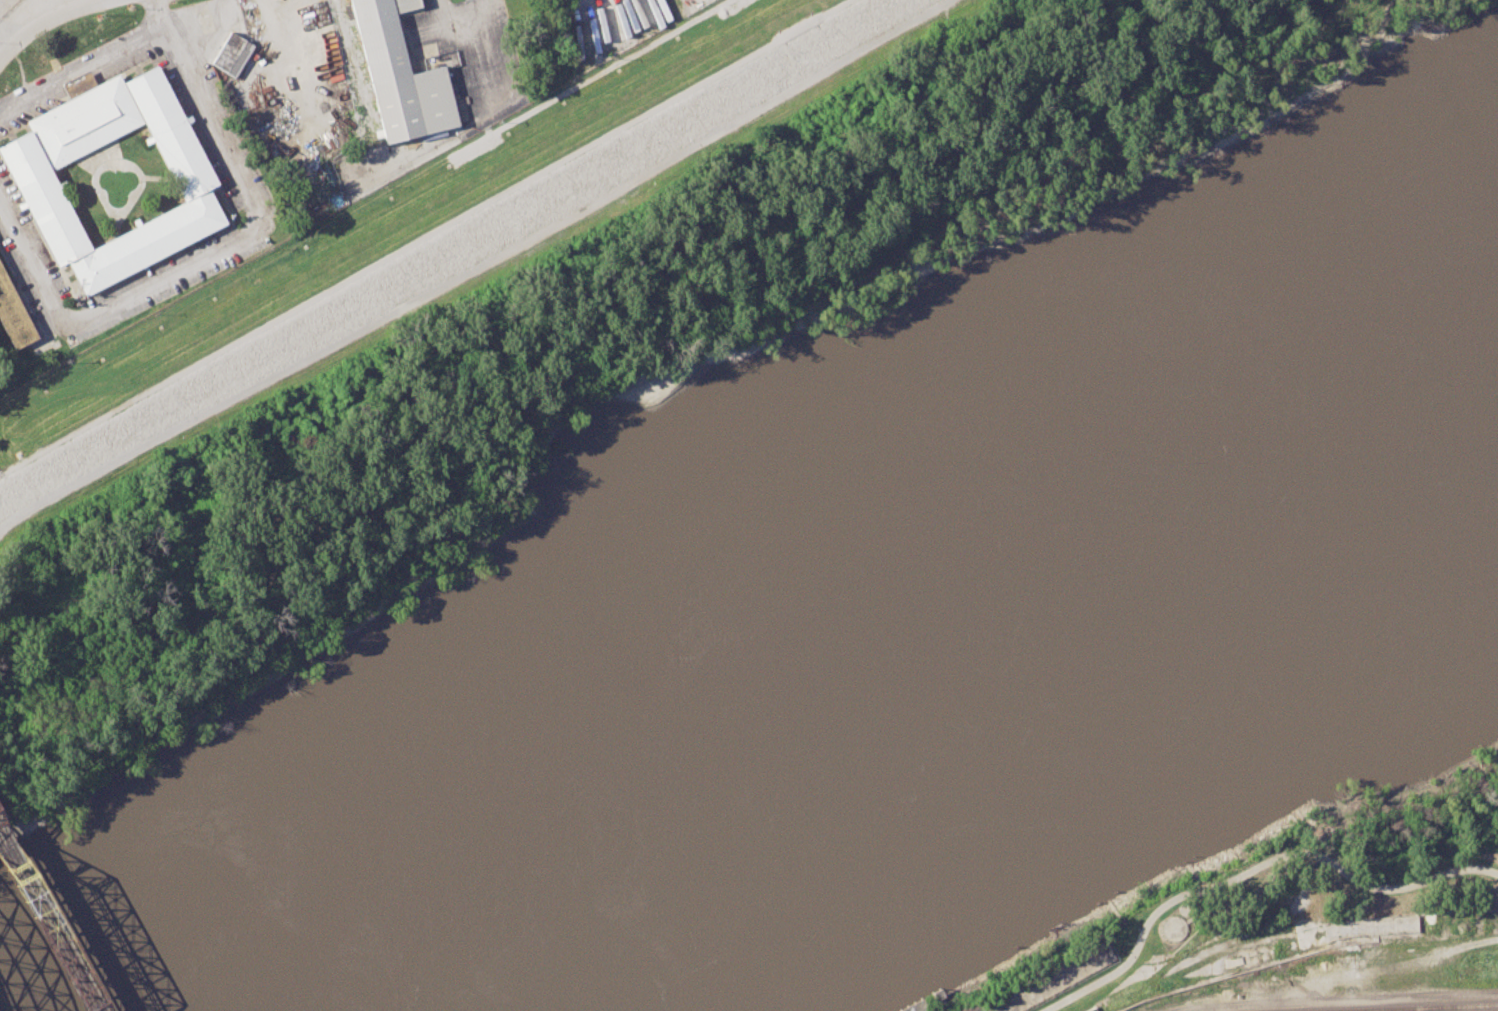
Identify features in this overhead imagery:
road: (439, 17)
road: (46, 20)
road: (7, 35)
road: (274, 40)
building: (231, 53)
parking lot: (135, 58)
road: (80, 63)
road: (354, 69)
building: (398, 77)
parking lot: (10, 124)
parking lot: (199, 136)
road: (606, 138)
parking lot: (242, 156)
building: (32, 176)
parking lot: (32, 234)
road: (210, 250)
parking lot: (156, 265)
parking lot: (24, 282)
parking lot: (171, 288)
building: (13, 317)
road: (178, 375)
river: (856, 666)
road: (1253, 870)
park: (1302, 898)
railway: (50, 917)
railway: (45, 927)
railway: (1421, 1007)

